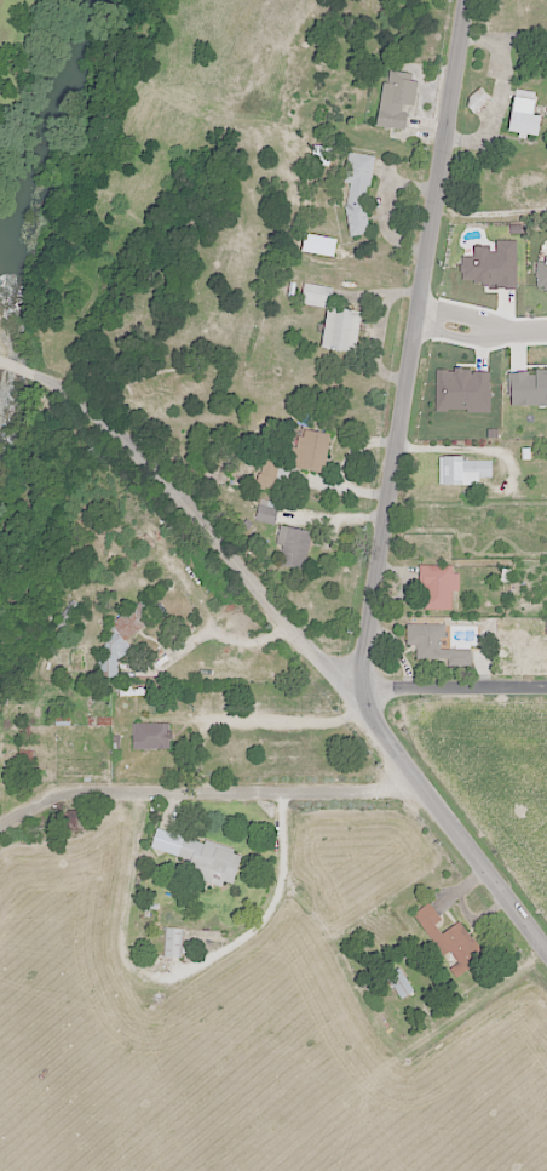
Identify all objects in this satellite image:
road: (501, 93)
building: (396, 98)
building: (477, 99)
building: (522, 114)
building: (357, 194)
road: (382, 205)
river: (21, 218)
building: (333, 319)
road: (485, 325)
road: (517, 326)
road: (413, 348)
road: (25, 366)
building: (310, 450)
building: (462, 470)
building: (266, 510)
building: (292, 547)
building: (437, 585)
building: (67, 616)
building: (119, 640)
building: (433, 645)
road: (312, 650)
road: (453, 689)
road: (156, 693)
road: (70, 704)
road: (253, 720)
building: (149, 736)
road: (206, 794)
building: (209, 861)
building: (450, 939)
building: (172, 942)
road: (183, 976)
building: (399, 983)
road: (387, 1039)

